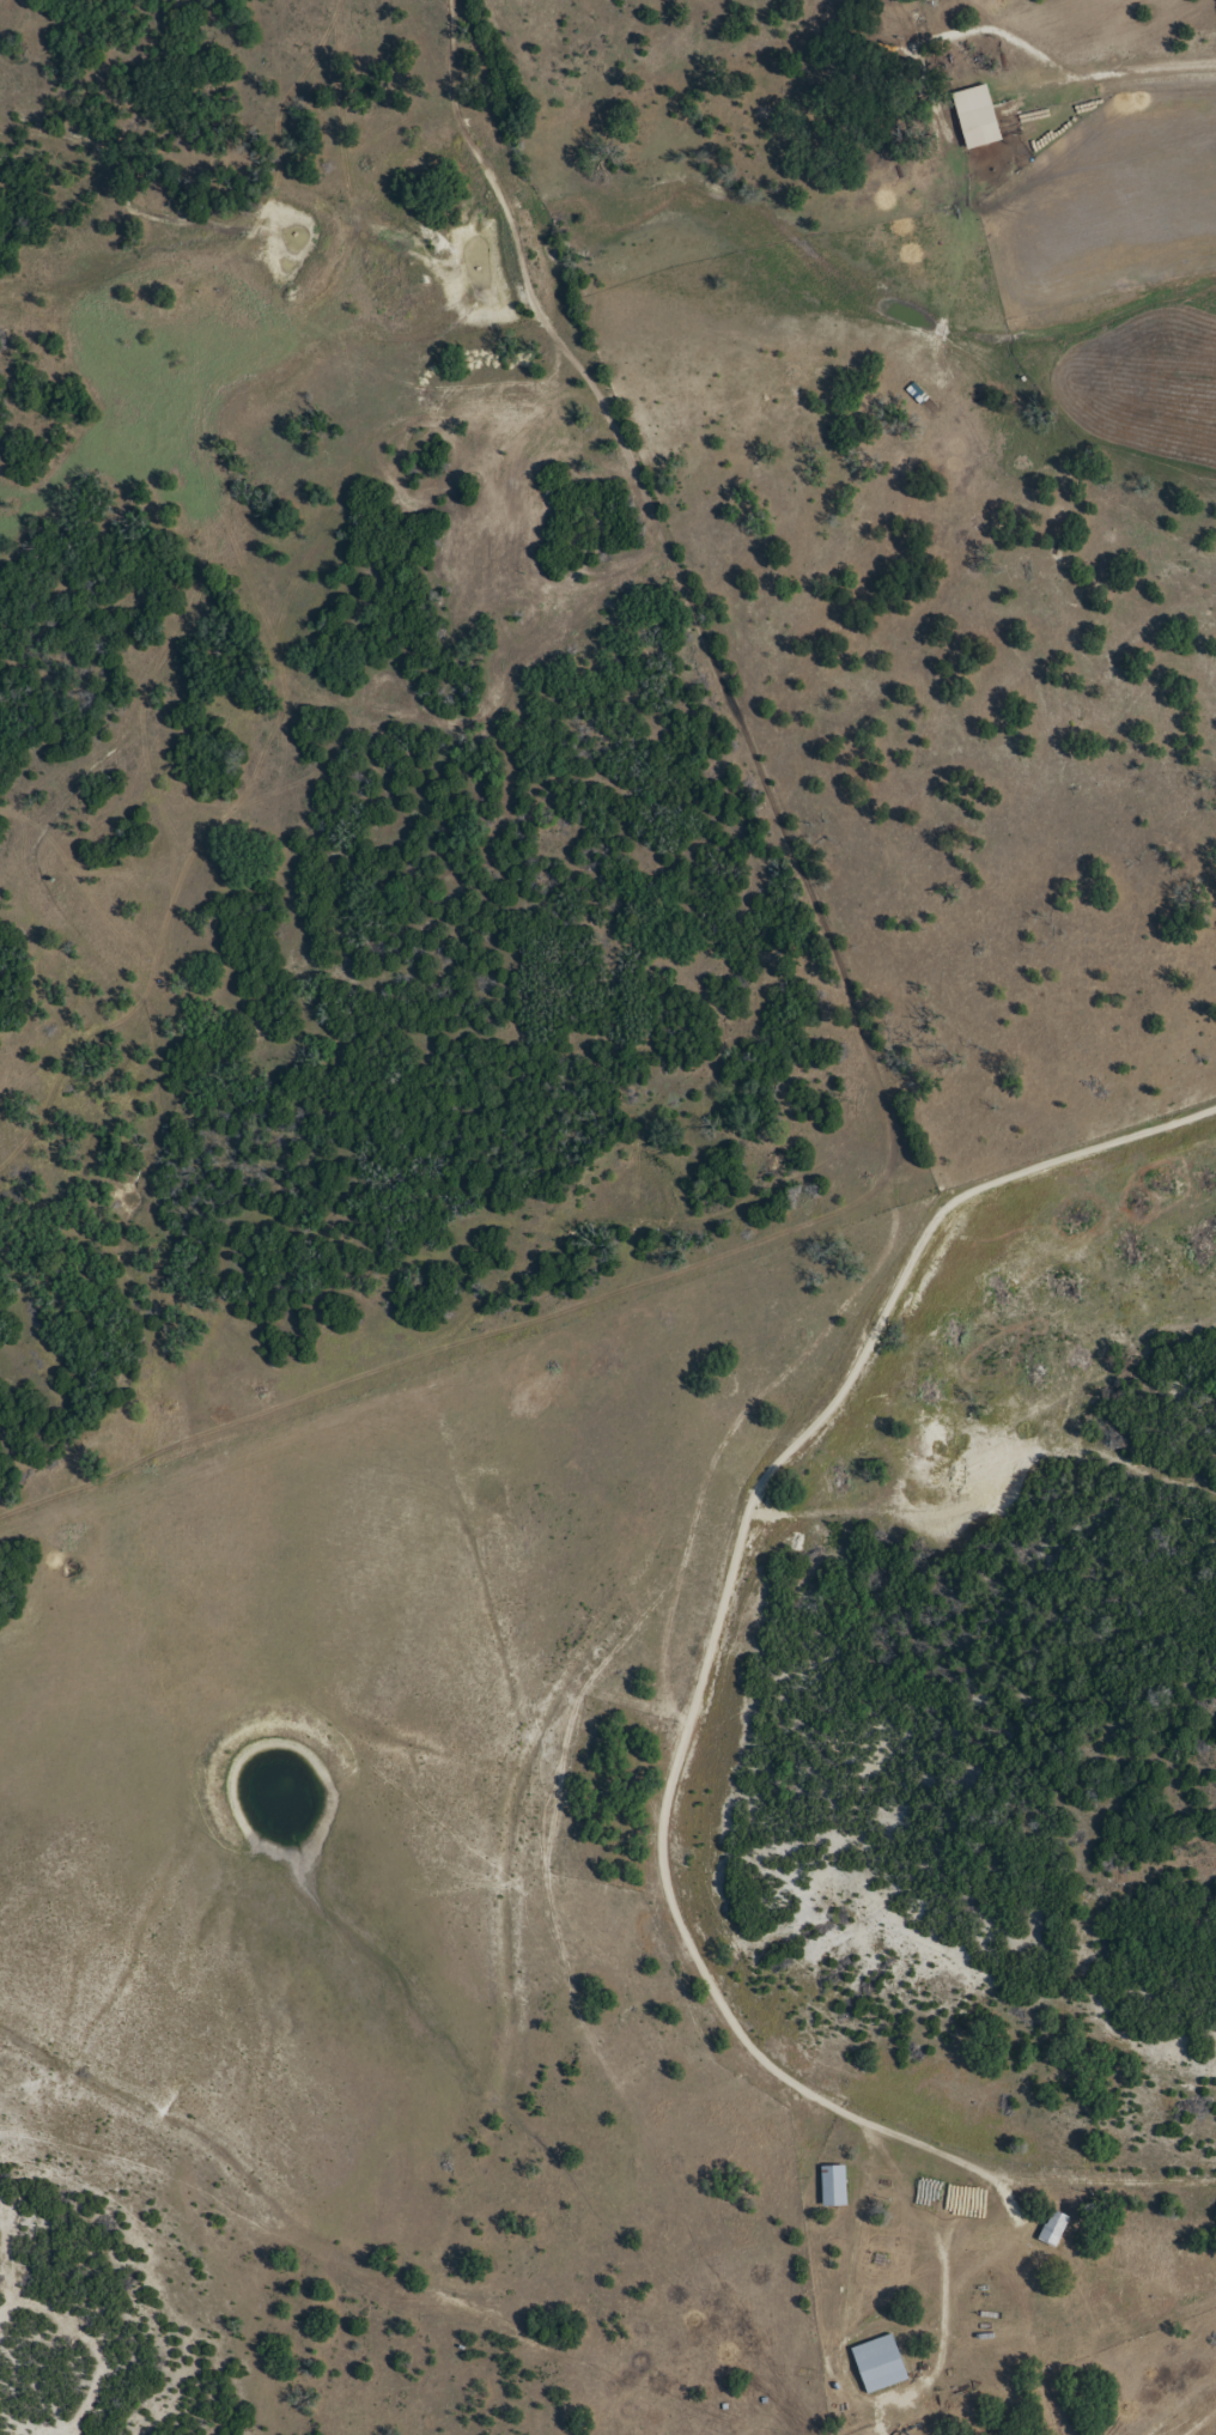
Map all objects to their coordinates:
building: (975, 115)
building: (917, 393)
road: (1090, 1158)
road: (667, 1829)
building: (833, 2185)
building: (1053, 2227)
building: (878, 2362)

